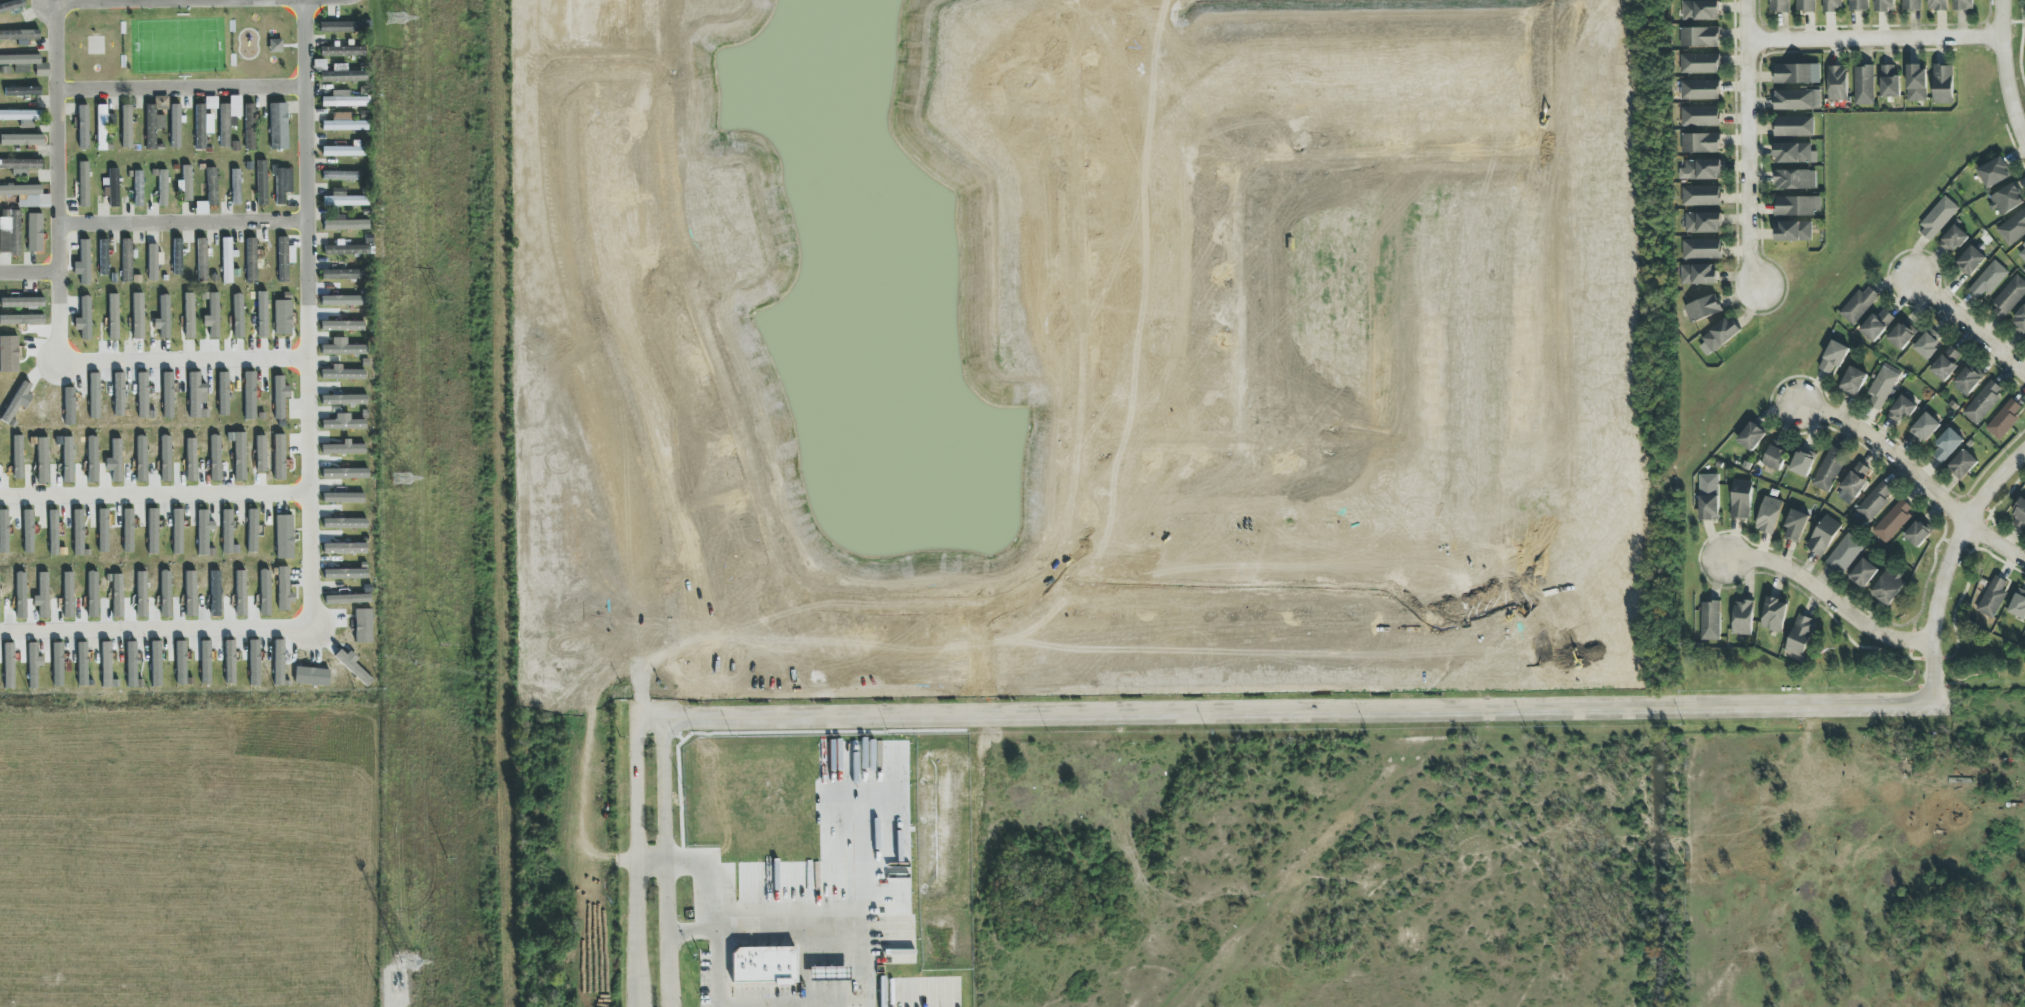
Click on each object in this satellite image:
road: (91, 1)
building: (1910, 4)
building: (1937, 4)
building: (1963, 4)
building: (1778, 5)
building: (1805, 5)
building: (1831, 5)
building: (1857, 5)
building: (1884, 5)
building: (12, 6)
building: (1700, 9)
power tower: (397, 17)
road: (2013, 22)
building: (338, 27)
building: (20, 35)
building: (1698, 36)
road: (1875, 37)
road: (2020, 44)
park: (96, 46)
building: (343, 51)
building: (1698, 62)
building: (25, 64)
building: (339, 73)
building: (1796, 73)
road: (2004, 73)
building: (1889, 81)
building: (1837, 82)
building: (1917, 82)
building: (1942, 83)
building: (1863, 84)
road: (1053, 85)
road: (182, 89)
building: (1699, 89)
building: (21, 91)
building: (343, 99)
building: (1797, 99)
building: (162, 103)
building: (20, 115)
building: (1700, 115)
building: (228, 118)
building: (204, 122)
building: (343, 123)
building: (103, 125)
building: (153, 125)
building: (1793, 125)
building: (126, 126)
building: (175, 126)
building: (279, 126)
building: (83, 127)
building: (249, 127)
building: (21, 140)
building: (1699, 142)
road: (1748, 144)
building: (344, 150)
road: (57, 151)
road: (307, 151)
building: (1794, 152)
building: (20, 166)
building: (1700, 169)
building: (1994, 172)
building: (340, 175)
building: (1795, 178)
building: (261, 182)
building: (187, 183)
building: (83, 184)
building: (282, 184)
building: (236, 186)
building: (112, 187)
building: (138, 188)
building: (162, 188)
building: (209, 192)
building: (1700, 195)
building: (24, 196)
building: (343, 199)
building: (2006, 199)
building: (1797, 205)
building: (1937, 216)
building: (1703, 221)
road: (184, 223)
building: (345, 224)
building: (2012, 227)
building: (1793, 230)
building: (10, 232)
building: (35, 233)
building: (1953, 237)
building: (1701, 248)
building: (347, 249)
building: (2022, 252)
building: (178, 256)
building: (103, 257)
building: (202, 258)
building: (284, 258)
building: (228, 259)
building: (1970, 259)
building: (127, 260)
building: (154, 261)
building: (251, 261)
building: (85, 263)
road: (1237, 265)
building: (1697, 273)
road: (29, 274)
building: (344, 274)
building: (1988, 279)
building: (2008, 296)
building: (22, 302)
building: (1858, 304)
building: (1702, 308)
building: (262, 314)
building: (138, 316)
building: (189, 316)
building: (213, 316)
building: (238, 316)
building: (113, 317)
building: (164, 317)
building: (282, 317)
building: (84, 318)
building: (2019, 322)
building: (1876, 324)
road: (1969, 326)
building: (1720, 333)
road: (310, 334)
building: (1900, 335)
building: (1926, 344)
building: (342, 348)
building: (1833, 356)
road: (1081, 360)
building: (1946, 363)
building: (342, 373)
building: (1853, 380)
building: (1967, 380)
building: (1881, 386)
building: (119, 394)
building: (143, 394)
building: (196, 394)
building: (224, 394)
building: (169, 395)
building: (174, 395)
building: (250, 395)
building: (94, 396)
building: (280, 396)
building: (344, 400)
building: (1983, 401)
building: (1901, 409)
building: (2003, 419)
building: (343, 424)
building: (1924, 427)
building: (1751, 435)
road: (1203, 444)
building: (1947, 444)
building: (344, 448)
building: (239, 454)
building: (1775, 454)
building: (17, 456)
building: (279, 457)
building: (166, 458)
building: (215, 458)
building: (67, 459)
building: (92, 459)
building: (142, 459)
building: (191, 459)
building: (42, 460)
building: (115, 461)
building: (1802, 461)
building: (1962, 463)
building: (1828, 468)
road: (1915, 472)
building: (345, 473)
power tower: (402, 478)
building: (1854, 482)
building: (1708, 496)
building: (343, 497)
road: (309, 499)
building: (1740, 499)
building: (1872, 503)
road: (155, 504)
building: (2019, 513)
building: (1768, 514)
building: (1892, 520)
building: (345, 523)
building: (1795, 525)
building: (103, 530)
building: (128, 530)
building: (252, 530)
building: (4, 531)
building: (28, 531)
building: (152, 531)
building: (177, 531)
building: (53, 532)
building: (78, 532)
building: (203, 532)
road: (768, 532)
building: (227, 533)
building: (1917, 533)
building: (1822, 535)
building: (284, 536)
building: (344, 548)
building: (1844, 553)
road: (1944, 565)
building: (1862, 572)
building: (347, 573)
building: (1888, 586)
building: (264, 592)
building: (92, 593)
building: (165, 593)
building: (20, 595)
building: (1992, 596)
building: (347, 598)
road: (1826, 598)
building: (2017, 605)
building: (1773, 614)
building: (1742, 617)
building: (1709, 620)
building: (1800, 635)
building: (205, 662)
building: (81, 663)
building: (156, 663)
building: (181, 663)
building: (254, 663)
building: (33, 664)
building: (57, 664)
building: (106, 664)
building: (9, 665)
building: (132, 665)
road: (1300, 711)
road: (651, 720)
road: (641, 861)
road: (637, 863)
road: (667, 863)
road: (716, 920)
road: (793, 939)
power tower: (408, 959)
building: (764, 965)

